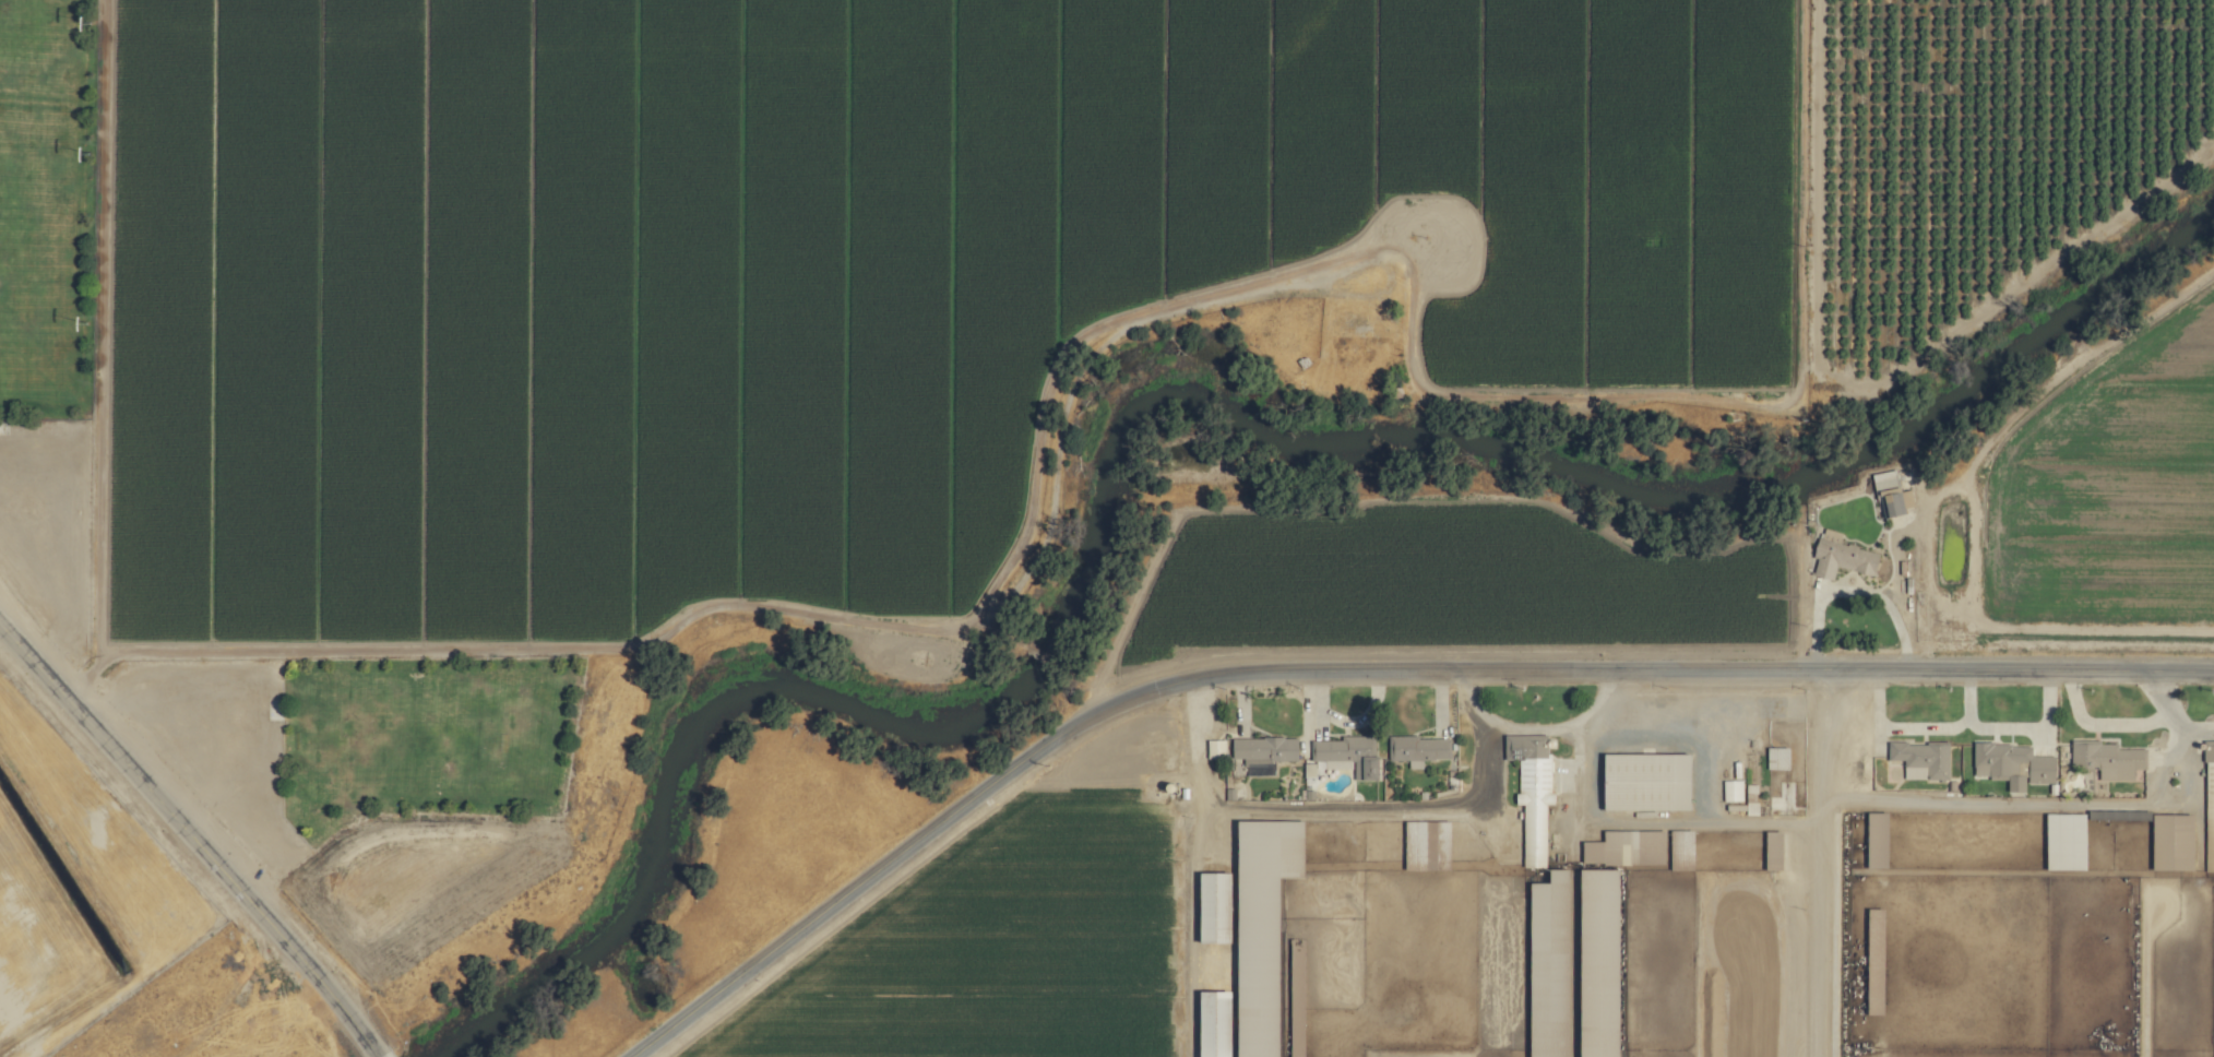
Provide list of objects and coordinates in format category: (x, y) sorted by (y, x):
building: (1447, 257)
building: (1361, 330)
park: (63, 365)
crop: (1282, 475)
building: (1888, 492)
building: (1841, 556)
road: (1688, 673)
road: (1466, 701)
road: (2103, 724)
road: (2029, 726)
road: (1918, 727)
road: (2201, 734)
building: (1215, 748)
building: (1264, 748)
building: (1418, 748)
building: (1347, 755)
building: (1777, 757)
building: (2107, 758)
building: (1921, 759)
road: (1705, 763)
building: (2012, 763)
building: (1646, 781)
building: (1532, 789)
building: (1733, 789)
road: (2060, 805)
building: (2209, 806)
building: (1751, 807)
road: (1381, 810)
building: (1877, 839)
building: (2066, 840)
road: (189, 841)
building: (2173, 841)
building: (1427, 844)
building: (1626, 846)
building: (1773, 850)
road: (891, 858)
road: (1821, 865)
airport: (75, 891)
building: (1214, 906)
building: (1551, 912)
building: (1214, 1023)

